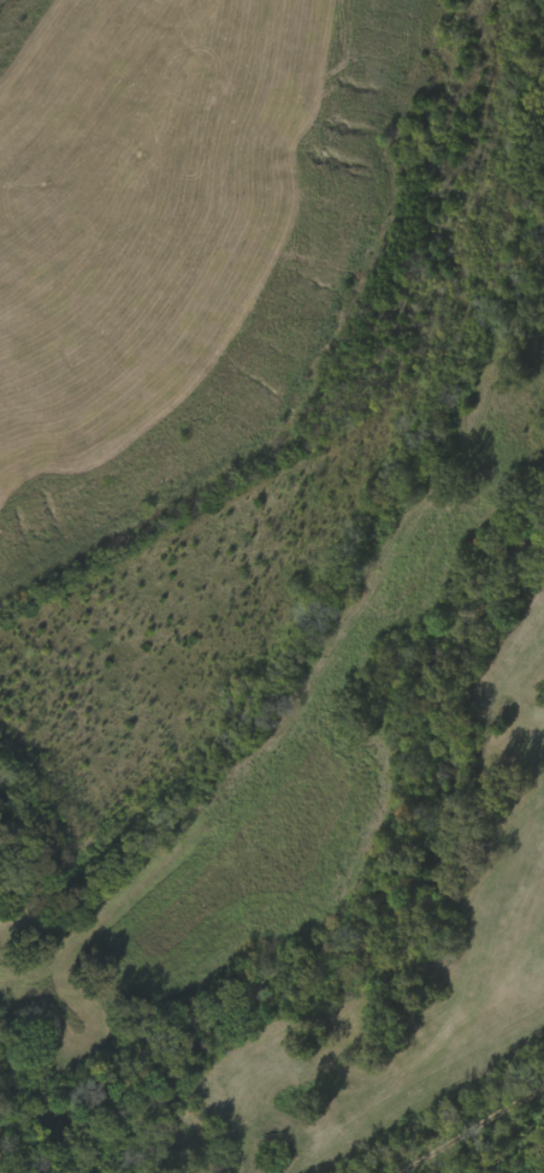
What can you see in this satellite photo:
road: (318, 692)
road: (469, 1128)

